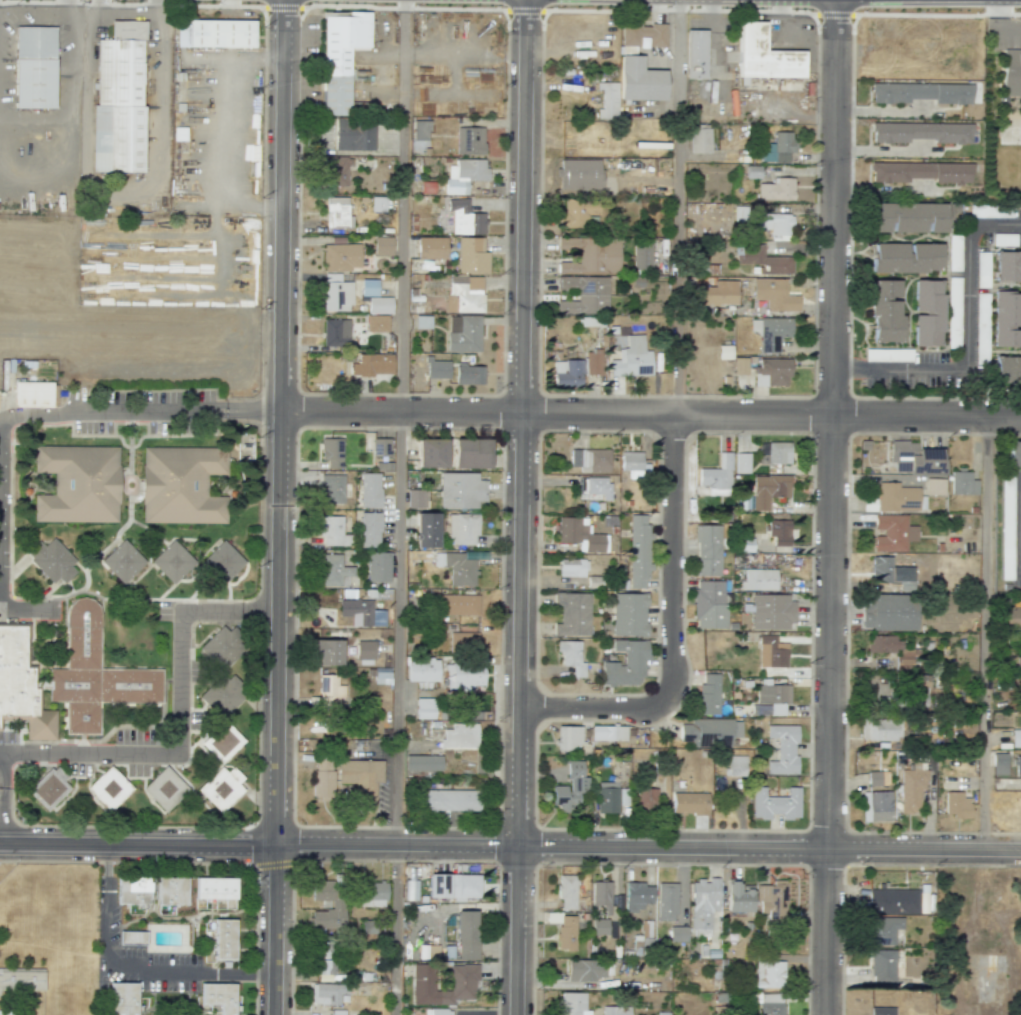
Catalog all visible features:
street lamp: (310, 1)
street lamp: (415, 5)
street lamp: (495, 6)
street lamp: (551, 7)
street lamp: (766, 8)
road: (999, 24)
building: (220, 33)
building: (642, 35)
building: (695, 54)
building: (764, 55)
building: (340, 56)
building: (34, 67)
building: (1011, 72)
building: (639, 80)
building: (920, 93)
building: (118, 100)
building: (607, 100)
road: (887, 110)
road: (69, 125)
building: (420, 130)
building: (920, 132)
building: (353, 135)
building: (469, 140)
building: (699, 140)
building: (779, 148)
building: (337, 171)
building: (921, 172)
building: (579, 174)
building: (464, 175)
building: (776, 189)
building: (378, 203)
road: (401, 206)
road: (675, 207)
building: (336, 212)
building: (576, 212)
building: (912, 217)
building: (464, 218)
building: (776, 223)
building: (382, 246)
building: (431, 247)
building: (340, 255)
building: (590, 255)
building: (471, 256)
building: (641, 256)
building: (906, 257)
building: (765, 260)
building: (1007, 266)
building: (367, 287)
building: (336, 293)
building: (464, 293)
building: (717, 293)
building: (583, 294)
building: (774, 294)
building: (379, 305)
building: (885, 311)
building: (927, 312)
building: (1006, 319)
building: (377, 323)
building: (335, 332)
building: (771, 332)
building: (463, 333)
road: (966, 338)
building: (632, 358)
building: (593, 362)
building: (374, 364)
building: (739, 366)
building: (437, 368)
building: (1007, 370)
building: (771, 371)
building: (568, 373)
building: (468, 374)
building: (32, 394)
road: (137, 410)
road: (649, 414)
street lamp: (540, 439)
building: (380, 447)
building: (331, 452)
building: (773, 452)
building: (431, 453)
building: (470, 453)
building: (1014, 453)
building: (915, 458)
building: (590, 460)
building: (741, 462)
building: (631, 464)
building: (717, 476)
building: (77, 483)
building: (963, 483)
building: (181, 485)
building: (595, 486)
building: (935, 486)
building: (331, 488)
building: (768, 489)
building: (369, 490)
building: (460, 490)
building: (897, 497)
building: (416, 498)
road: (278, 507)
road: (519, 507)
road: (829, 507)
road: (1018, 520)
building: (462, 528)
building: (369, 529)
building: (426, 530)
building: (334, 532)
building: (779, 532)
building: (578, 533)
building: (893, 533)
road: (674, 544)
building: (707, 550)
building: (638, 551)
building: (51, 561)
building: (122, 561)
building: (172, 561)
building: (222, 562)
building: (378, 567)
building: (456, 567)
building: (571, 567)
building: (881, 569)
building: (334, 571)
building: (759, 579)
building: (456, 604)
building: (710, 604)
building: (356, 611)
building: (771, 611)
road: (27, 612)
building: (888, 612)
building: (572, 614)
building: (628, 614)
building: (1011, 617)
road: (400, 628)
road: (987, 633)
building: (462, 640)
building: (890, 649)
building: (326, 652)
building: (365, 652)
building: (771, 652)
building: (571, 656)
building: (1017, 663)
building: (626, 664)
building: (422, 670)
building: (221, 671)
building: (92, 673)
building: (381, 675)
building: (462, 676)
building: (21, 685)
building: (918, 690)
building: (330, 691)
building: (707, 695)
road: (605, 706)
building: (880, 730)
building: (608, 732)
building: (710, 732)
road: (189, 733)
building: (459, 735)
building: (568, 738)
building: (1015, 738)
building: (222, 742)
building: (782, 749)
building: (423, 762)
building: (999, 763)
building: (735, 765)
building: (1017, 766)
road: (0, 767)
building: (322, 776)
building: (873, 778)
building: (360, 780)
building: (221, 787)
building: (48, 788)
building: (108, 788)
building: (911, 788)
building: (164, 789)
building: (569, 789)
building: (610, 797)
building: (645, 799)
building: (449, 800)
building: (689, 803)
building: (775, 804)
building: (956, 805)
building: (879, 806)
road: (510, 845)
building: (453, 885)
building: (215, 888)
building: (132, 890)
building: (410, 890)
building: (170, 891)
building: (566, 891)
building: (373, 894)
building: (637, 895)
building: (601, 896)
building: (738, 897)
building: (771, 898)
building: (666, 901)
building: (892, 901)
building: (922, 902)
building: (336, 904)
building: (703, 905)
building: (600, 926)
road: (394, 929)
building: (880, 930)
building: (678, 933)
building: (466, 935)
building: (132, 937)
building: (224, 939)
building: (428, 951)
building: (323, 958)
road: (132, 966)
building: (881, 967)
building: (586, 970)
building: (769, 974)
building: (462, 977)
building: (987, 977)
building: (22, 981)
building: (327, 993)
building: (218, 996)
building: (123, 998)
building: (571, 1004)
building: (771, 1004)
building: (615, 1010)
building: (882, 1011)
building: (437, 1012)

